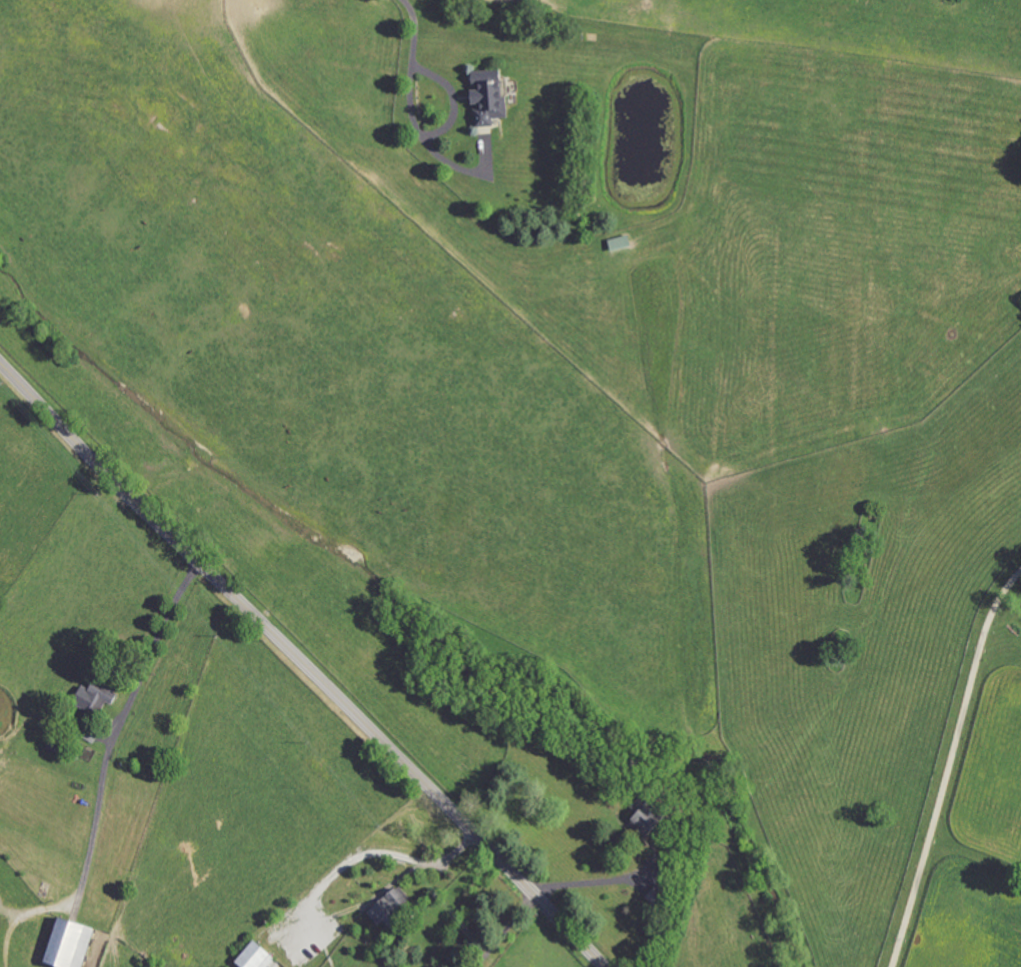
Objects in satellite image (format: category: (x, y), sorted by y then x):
road: (453, 98)
road: (412, 109)
road: (303, 663)
building: (98, 696)
road: (115, 729)
road: (949, 766)
building: (651, 822)
road: (330, 878)
road: (607, 881)
building: (394, 907)
road: (507, 931)
building: (75, 944)
building: (258, 956)

